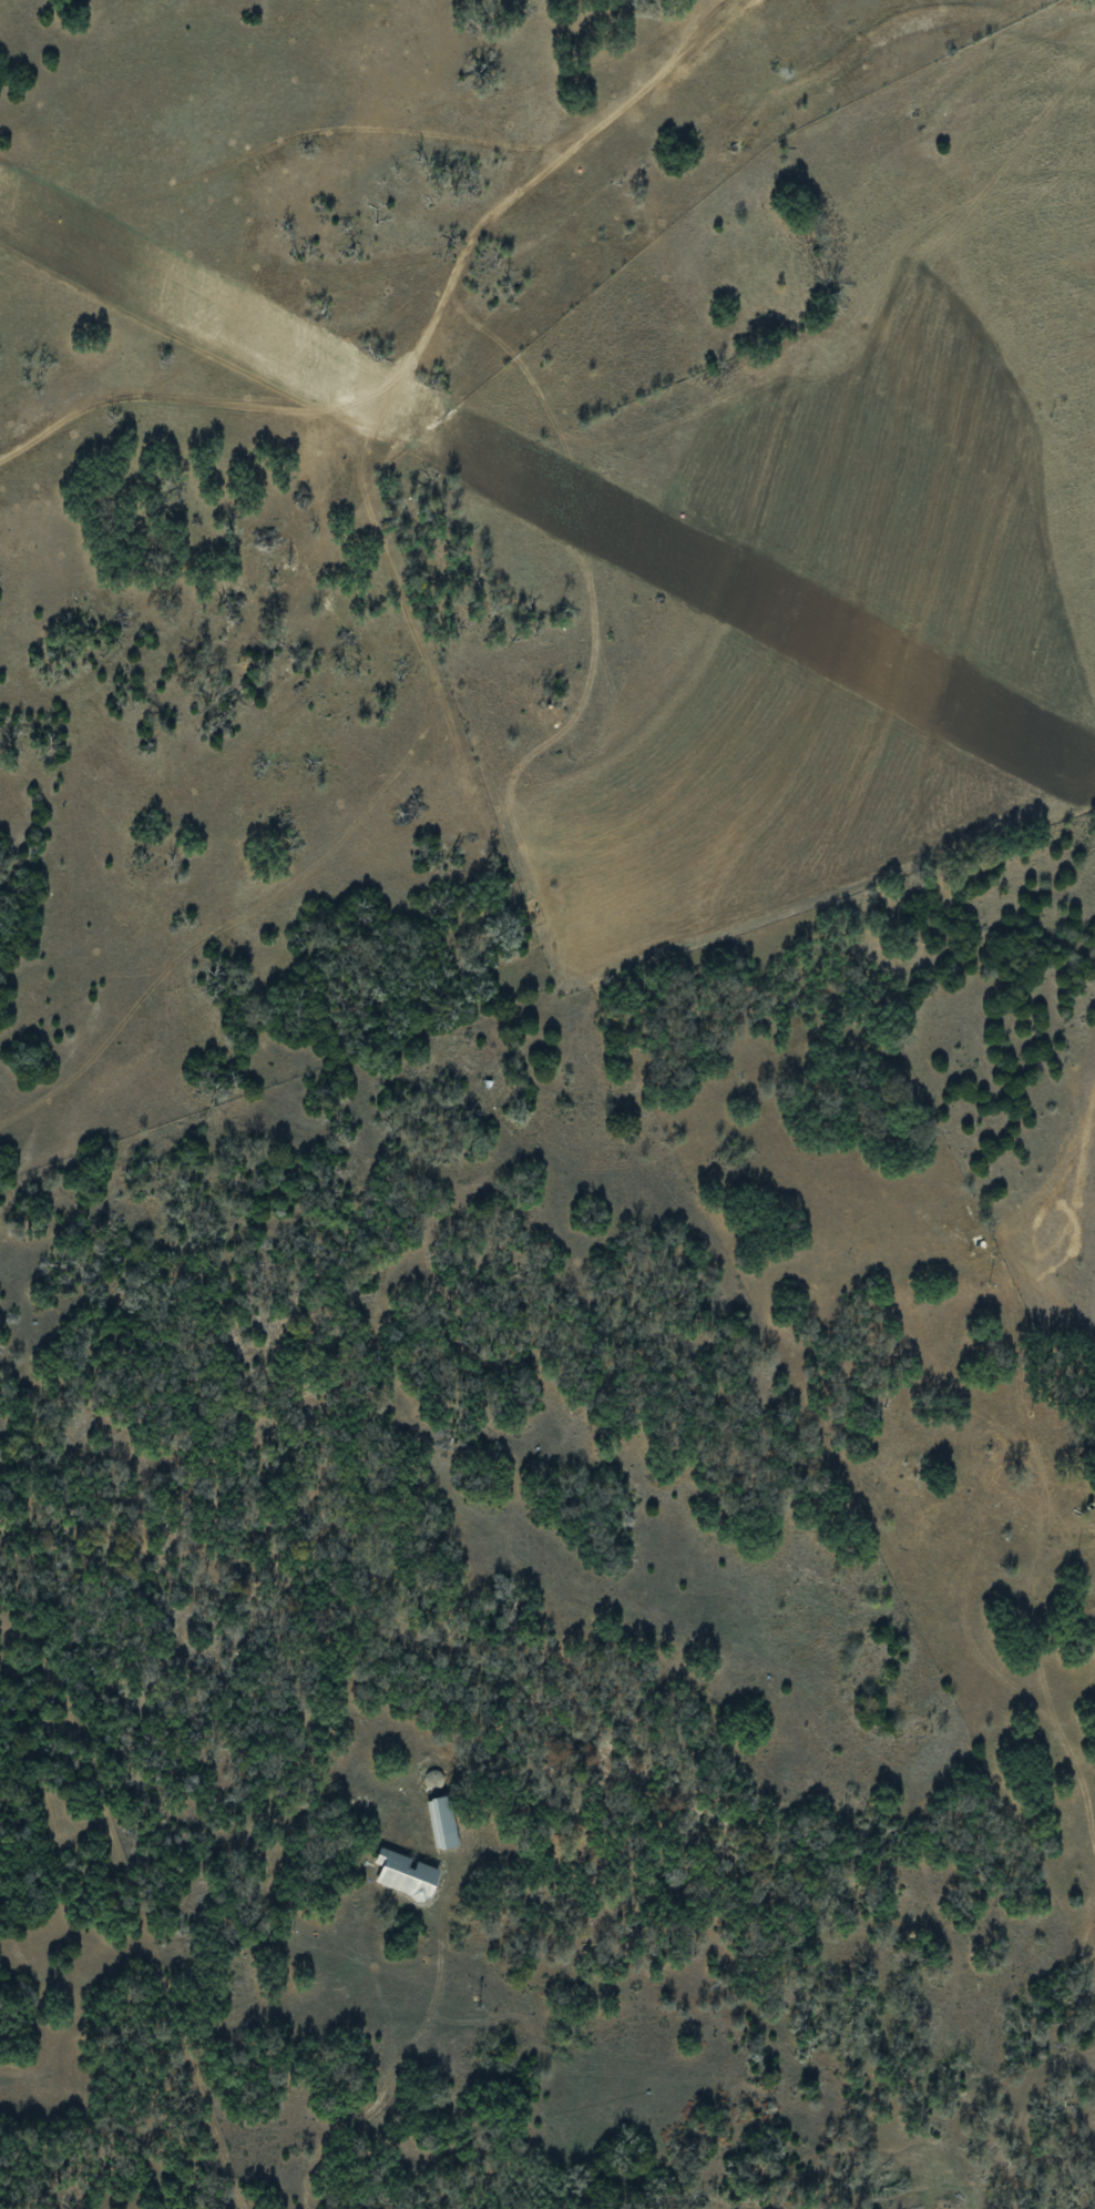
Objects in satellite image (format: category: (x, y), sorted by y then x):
quarry: (205, 86)
building: (437, 1821)
building: (398, 1872)
road: (388, 2075)

